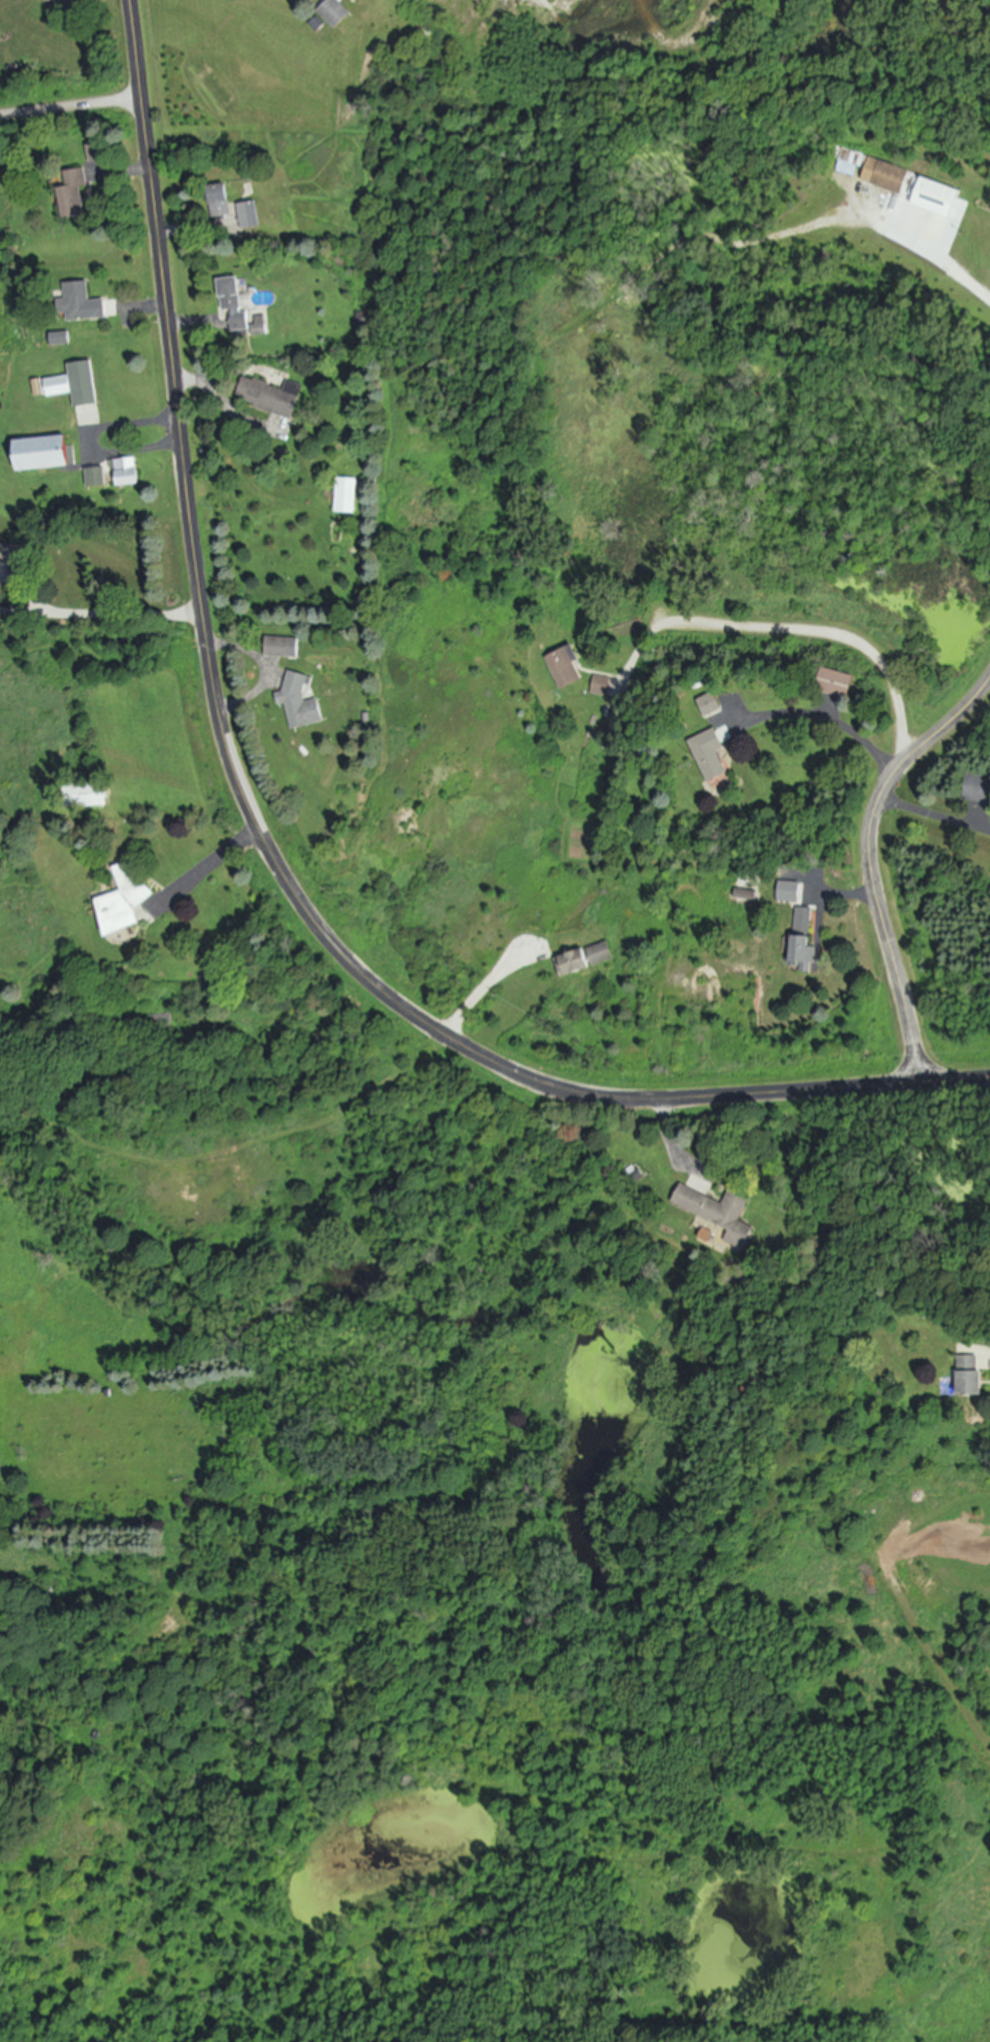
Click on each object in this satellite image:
building: (333, 12)
quarry: (734, 53)
road: (71, 107)
building: (92, 152)
building: (845, 162)
building: (881, 175)
building: (72, 192)
building: (932, 197)
building: (217, 200)
building: (247, 215)
road: (170, 225)
road: (940, 261)
building: (79, 303)
road: (144, 305)
building: (236, 309)
road: (191, 322)
road: (205, 383)
building: (74, 384)
building: (269, 396)
road: (96, 439)
building: (39, 453)
building: (125, 472)
building: (95, 477)
building: (346, 495)
building: (9, 553)
road: (29, 583)
road: (22, 611)
road: (123, 616)
road: (803, 629)
road: (228, 646)
building: (281, 647)
building: (564, 666)
building: (834, 682)
building: (600, 685)
road: (240, 699)
building: (298, 702)
building: (709, 704)
road: (830, 715)
building: (709, 755)
building: (84, 795)
road: (934, 814)
road: (258, 827)
road: (872, 857)
road: (221, 858)
road: (850, 885)
building: (787, 892)
building: (123, 900)
building: (802, 940)
building: (584, 959)
road: (482, 989)
road: (674, 1141)
building: (717, 1213)
building: (969, 1377)

